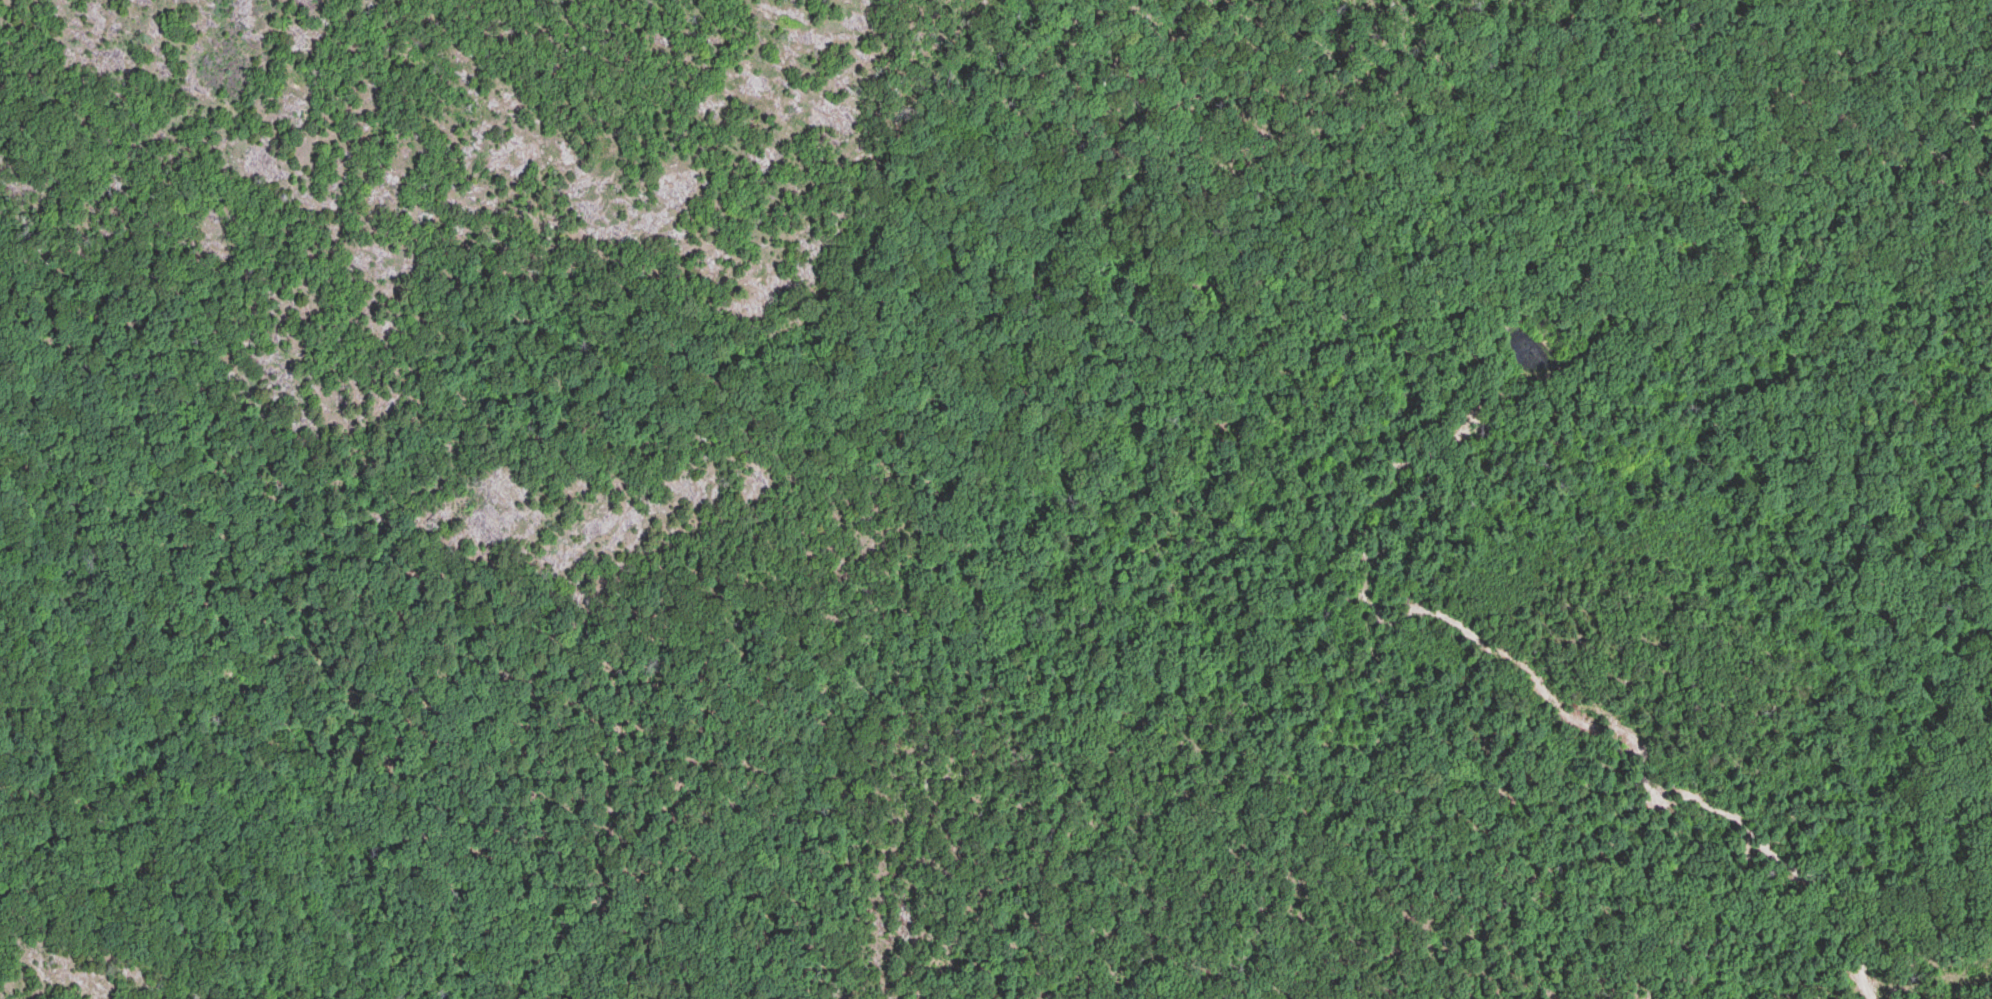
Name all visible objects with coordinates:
road: (1369, 547)

